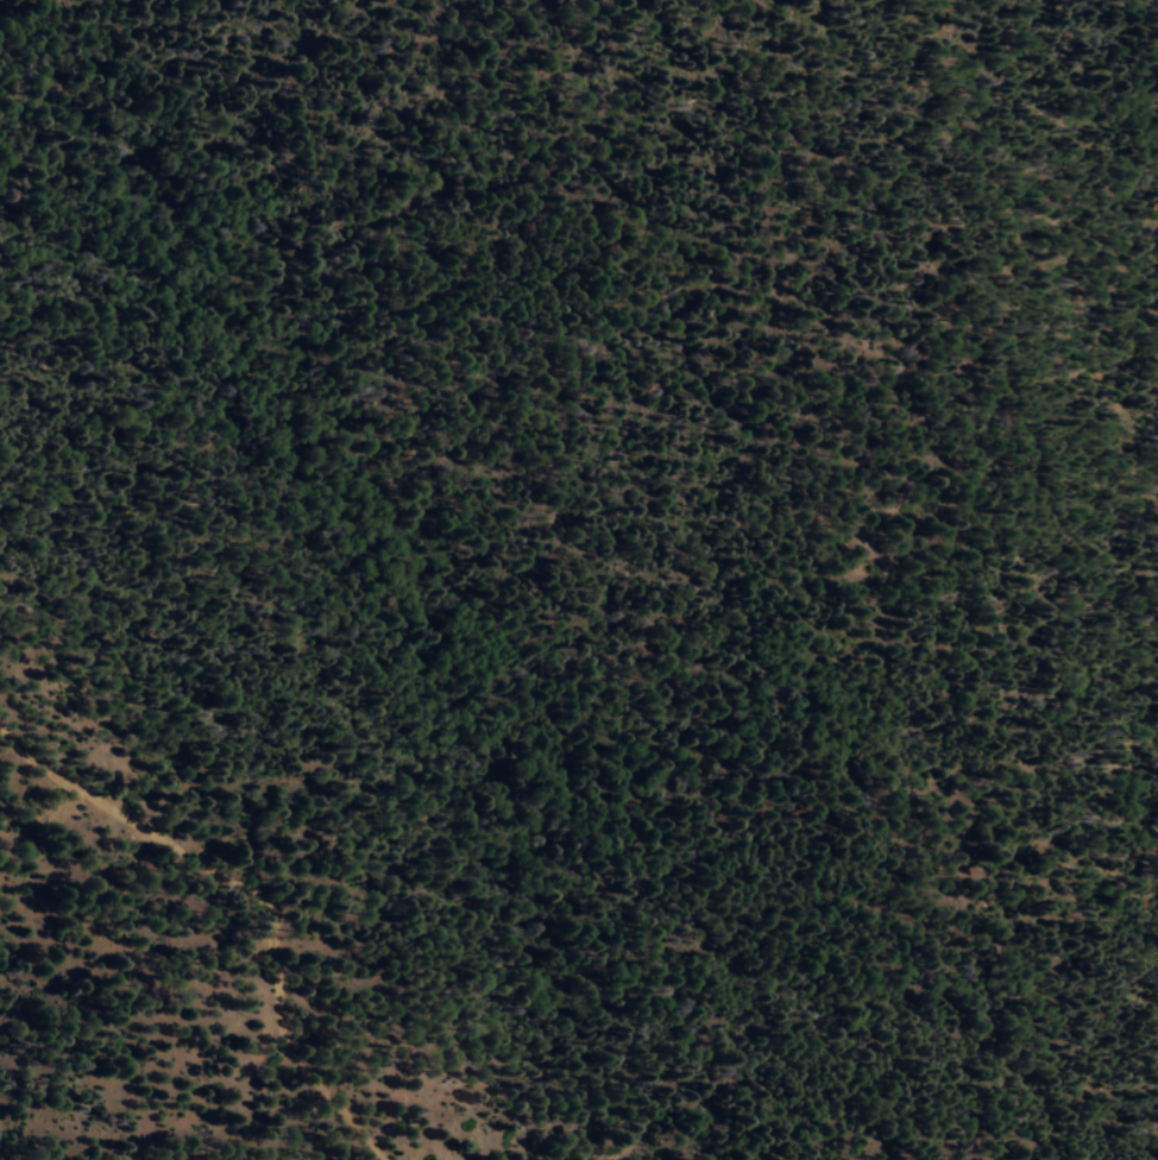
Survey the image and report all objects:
road: (204, 984)

